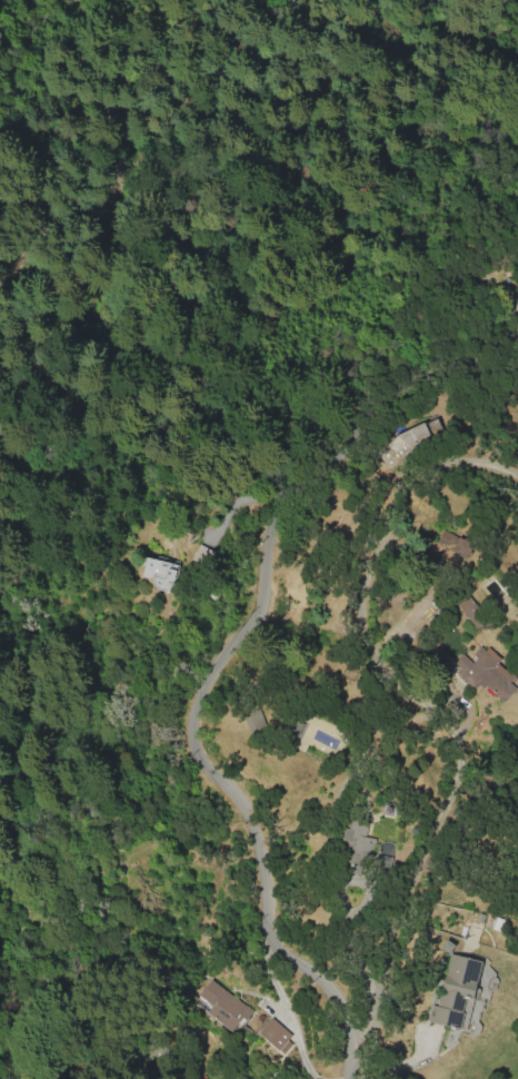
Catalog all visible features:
road: (145, 148)
building: (412, 435)
road: (243, 497)
building: (159, 572)
building: (469, 611)
road: (213, 672)
building: (485, 672)
road: (415, 700)
building: (253, 719)
building: (355, 847)
building: (380, 863)
road: (340, 904)
building: (455, 991)
building: (220, 1004)
road: (285, 1007)
building: (275, 1036)

